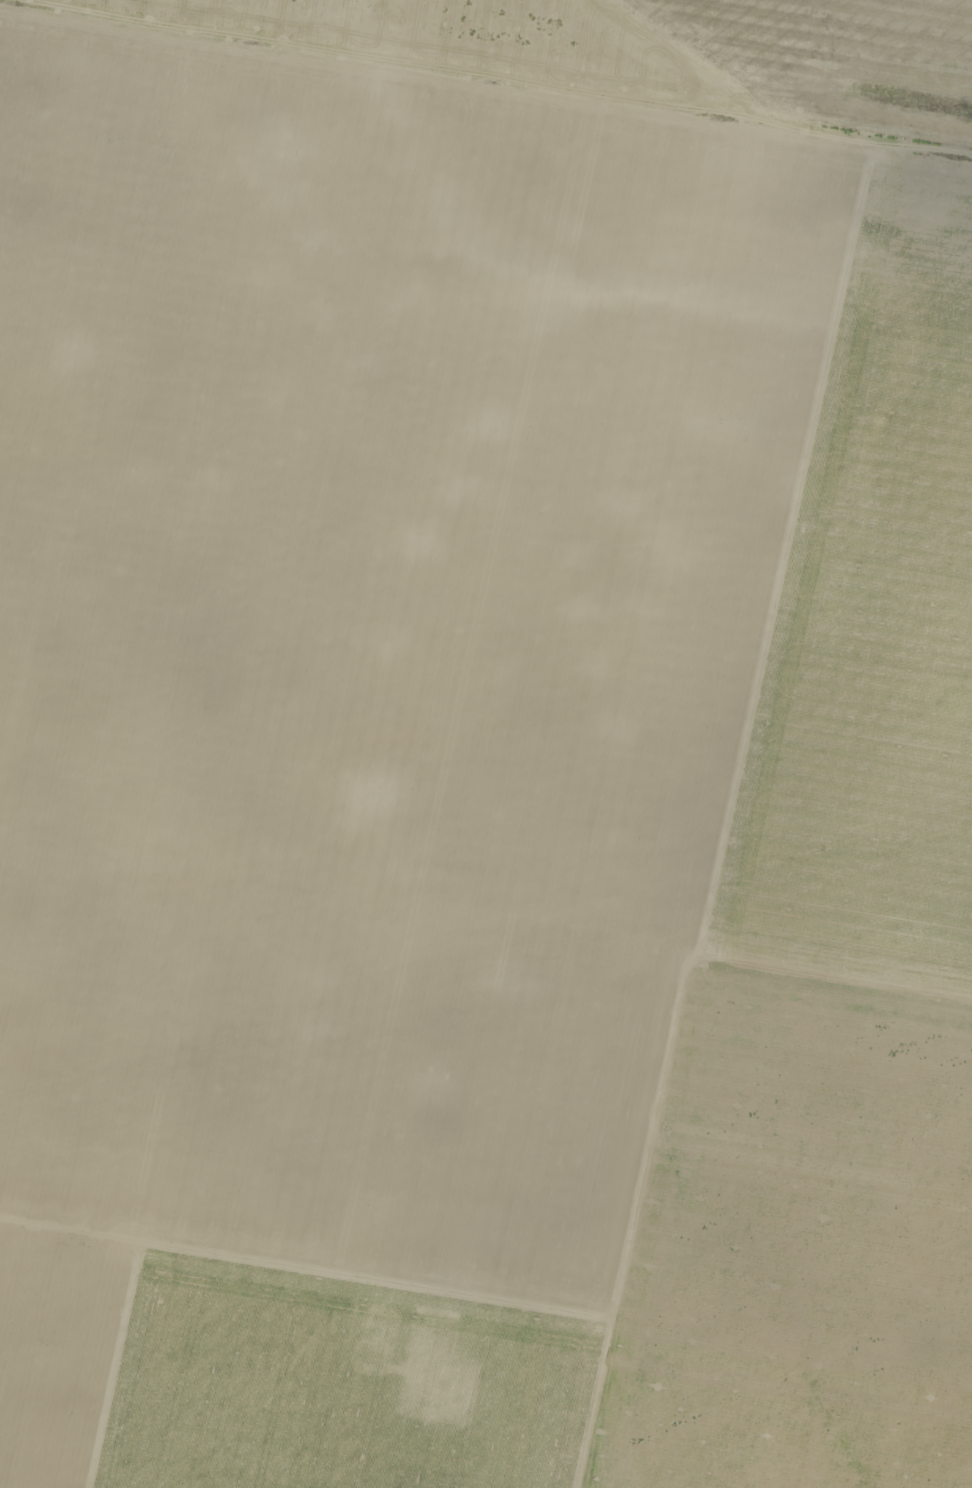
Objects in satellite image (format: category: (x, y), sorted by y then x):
road: (488, 94)

